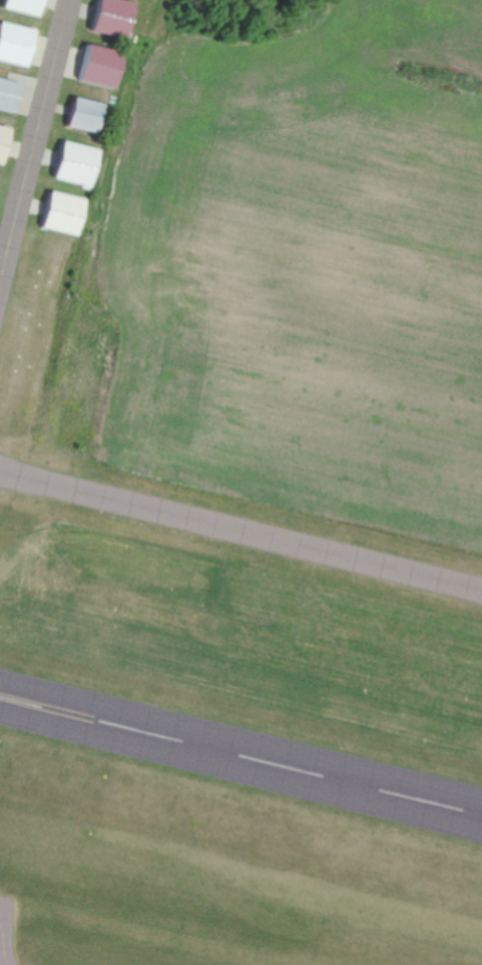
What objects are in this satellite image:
airport taxiway: (34, 138)
airport: (241, 482)
airport taxiway: (241, 528)
airport runway: (241, 753)
airport taxiway: (3, 943)

